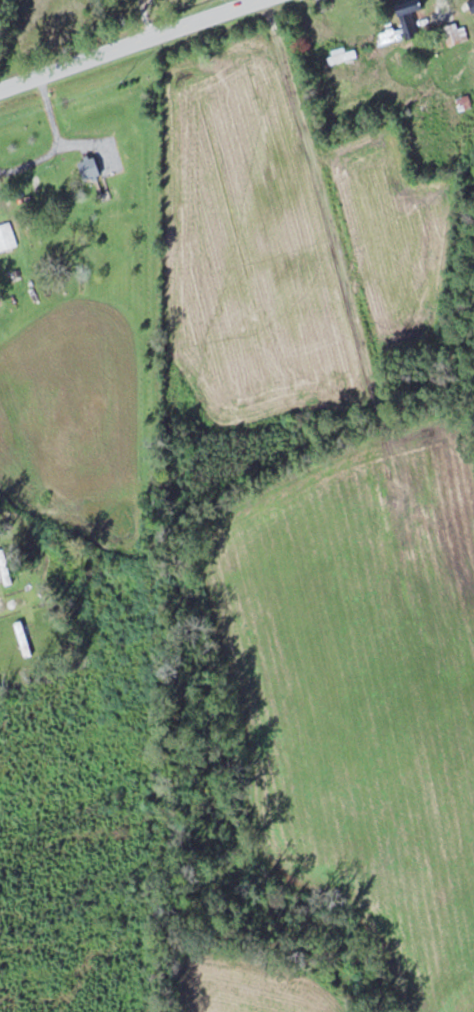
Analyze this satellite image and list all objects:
building: (410, 17)
building: (456, 34)
building: (390, 36)
road: (131, 44)
building: (342, 56)
building: (464, 102)
building: (91, 167)
building: (43, 187)
building: (7, 237)
building: (5, 568)
building: (23, 638)

